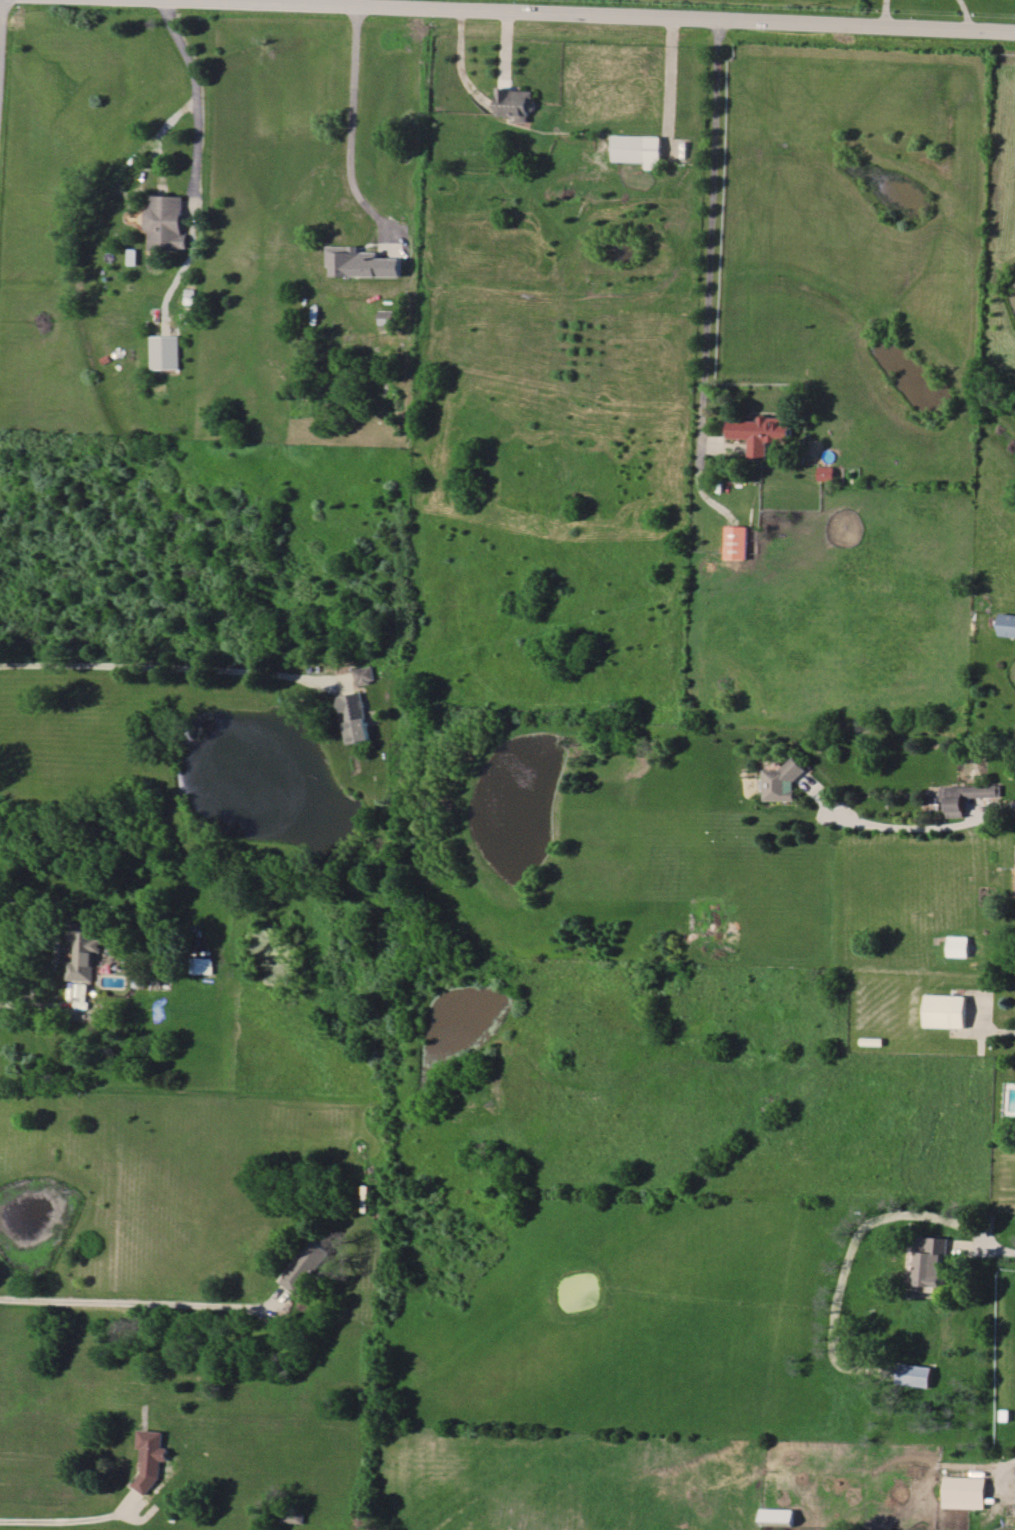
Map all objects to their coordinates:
road: (602, 16)
road: (194, 92)
building: (516, 103)
road: (354, 121)
building: (637, 149)
building: (168, 223)
road: (711, 234)
building: (363, 263)
building: (165, 352)
building: (760, 433)
building: (737, 542)
building: (1007, 625)
road: (172, 667)
building: (362, 675)
building: (354, 717)
building: (785, 782)
building: (968, 797)
road: (916, 816)
road: (54, 942)
building: (958, 946)
building: (82, 951)
road: (42, 1009)
building: (945, 1010)
road: (856, 1233)
building: (931, 1260)
building: (306, 1266)
road: (136, 1297)
building: (915, 1375)
building: (150, 1457)
building: (965, 1492)
building: (776, 1514)
road: (62, 1522)

